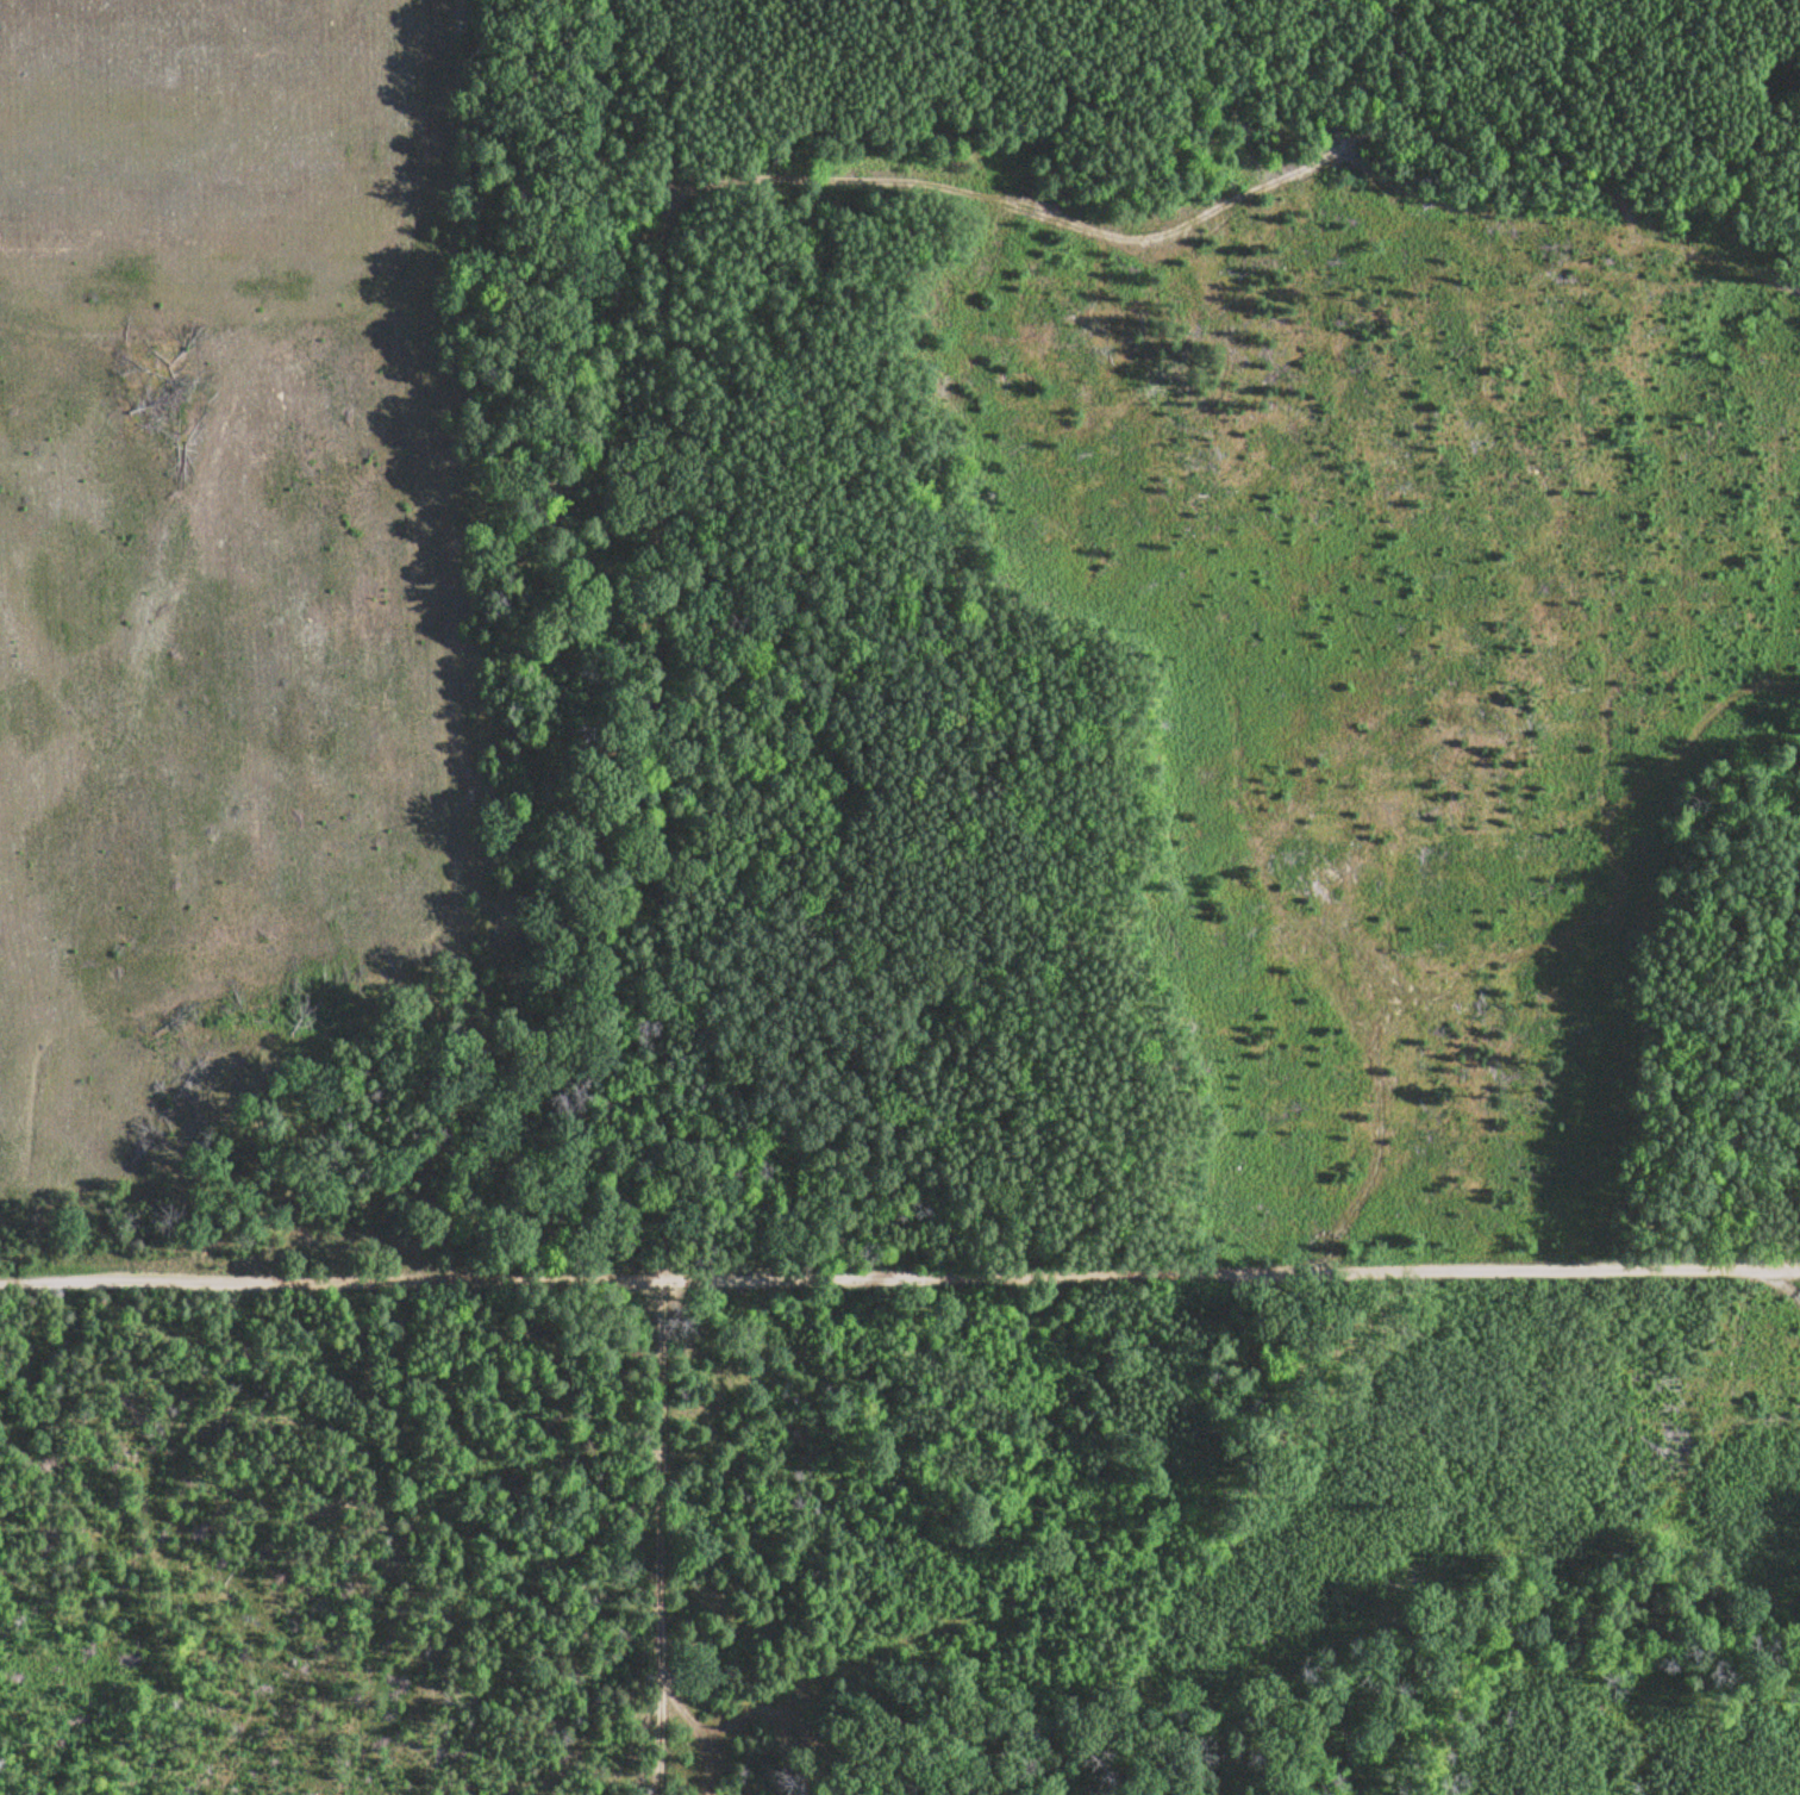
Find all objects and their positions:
road: (663, 898)
road: (900, 1278)

